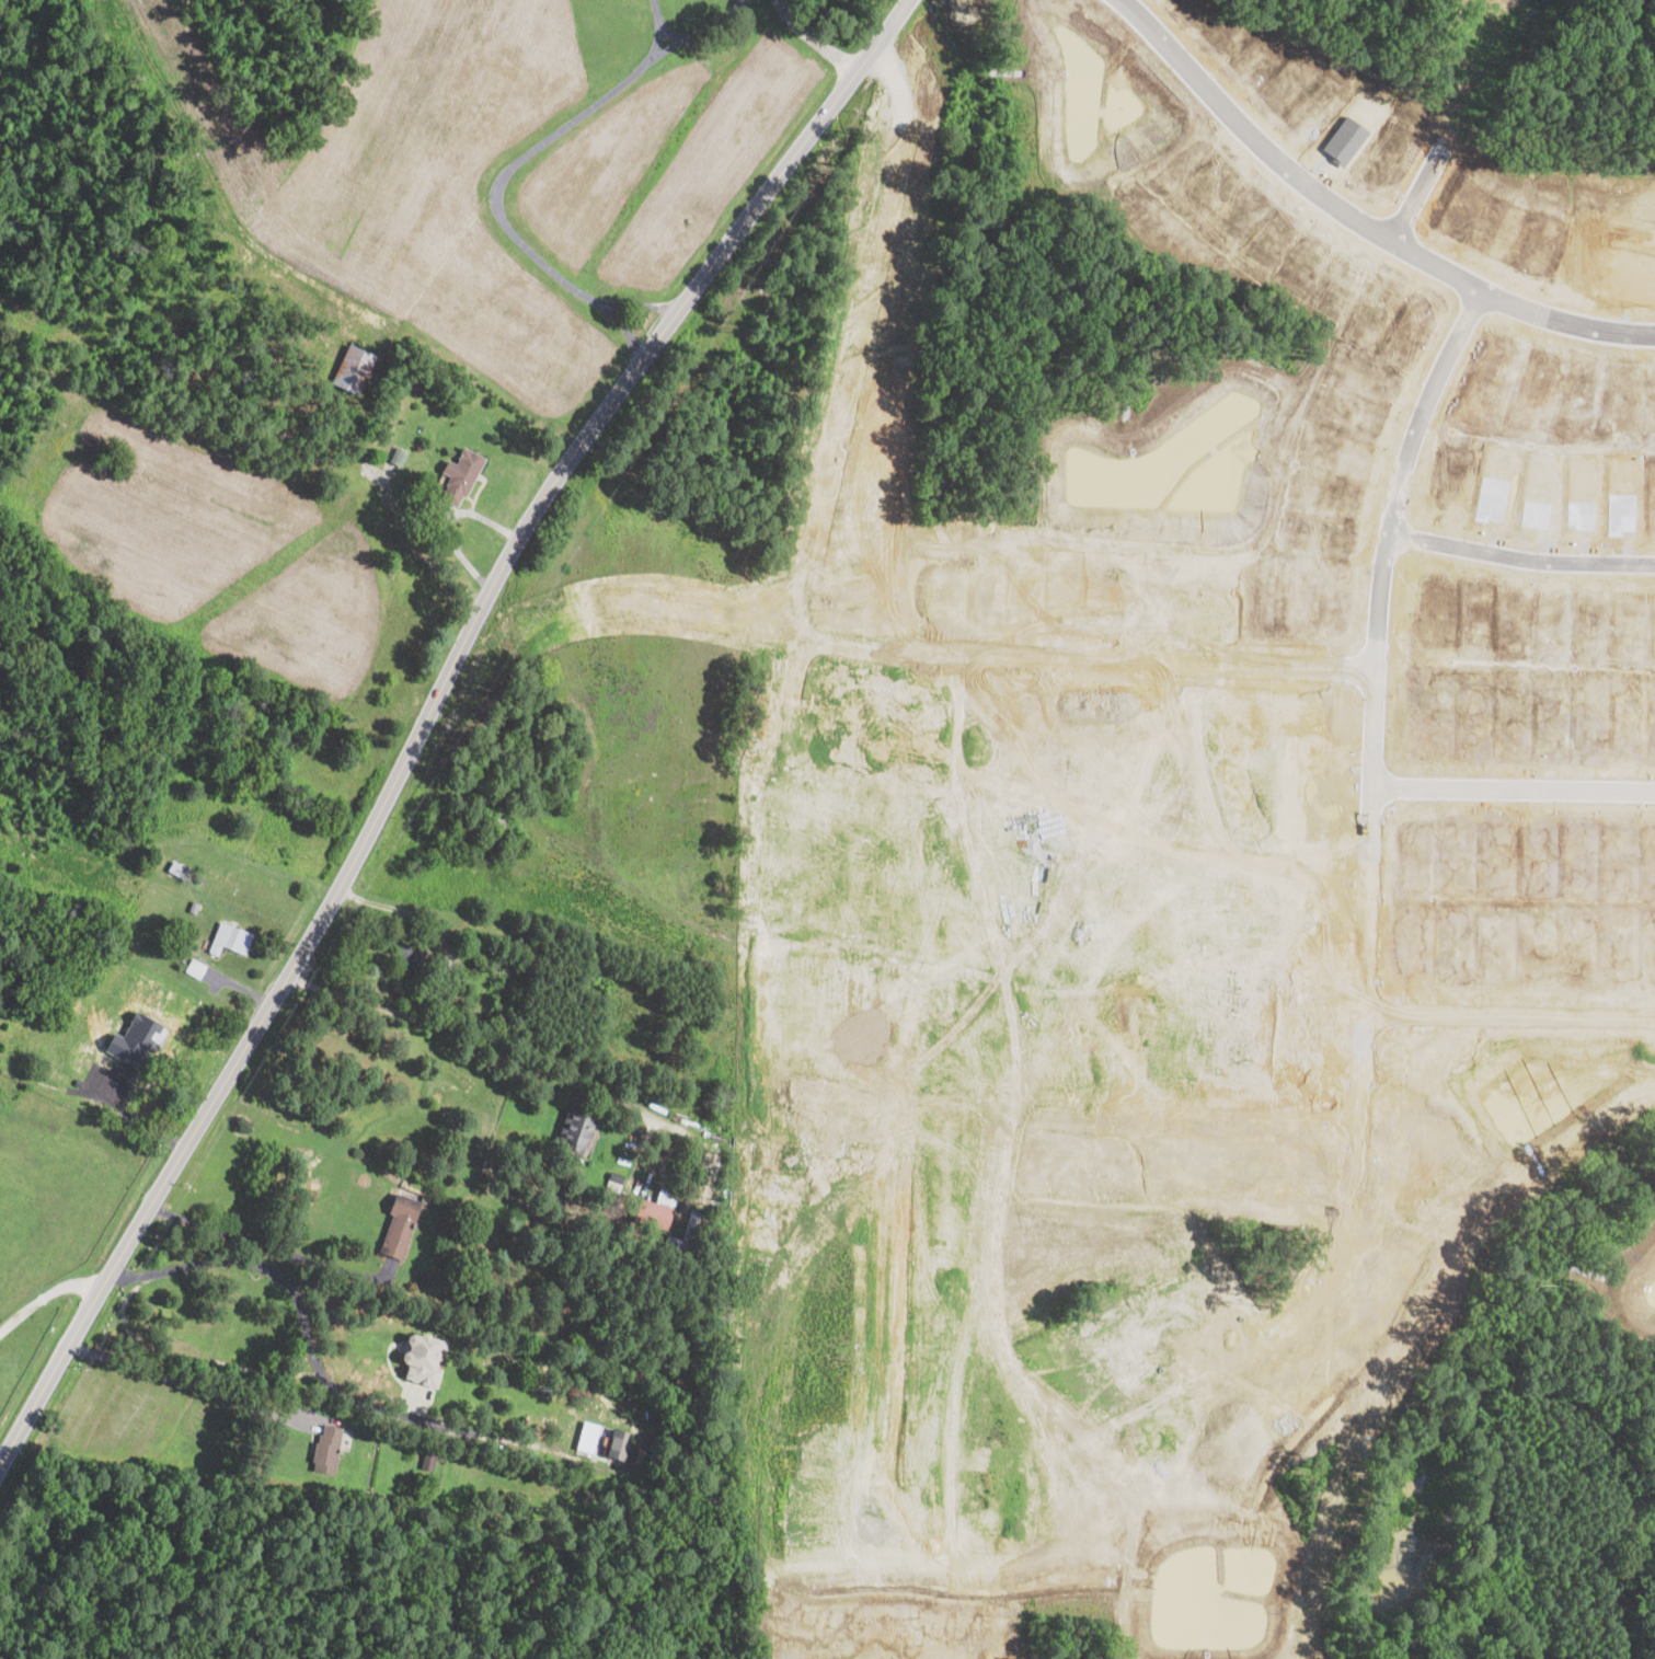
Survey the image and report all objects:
road: (657, 28)
road: (670, 32)
road: (521, 159)
road: (1420, 196)
road: (1353, 219)
road: (685, 309)
building: (353, 369)
building: (399, 454)
building: (461, 475)
road: (1525, 550)
road: (1377, 641)
road: (495, 650)
building: (296, 730)
building: (529, 749)
road: (1508, 788)
building: (495, 828)
building: (179, 869)
building: (83, 873)
building: (199, 878)
building: (194, 906)
road: (402, 909)
building: (230, 938)
building: (483, 954)
building: (417, 960)
building: (195, 967)
building: (87, 994)
building: (587, 998)
road: (1505, 1009)
building: (15, 1032)
building: (135, 1039)
building: (1433, 1061)
building: (124, 1064)
building: (62, 1079)
building: (78, 1083)
road: (146, 1113)
building: (574, 1130)
building: (614, 1183)
building: (598, 1214)
building: (654, 1216)
building: (399, 1225)
road: (268, 1247)
building: (681, 1247)
road: (283, 1276)
building: (424, 1277)
road: (45, 1293)
building: (423, 1358)
road: (189, 1383)
building: (680, 1384)
building: (659, 1417)
building: (619, 1443)
building: (326, 1450)
building: (428, 1458)
building: (467, 1521)

